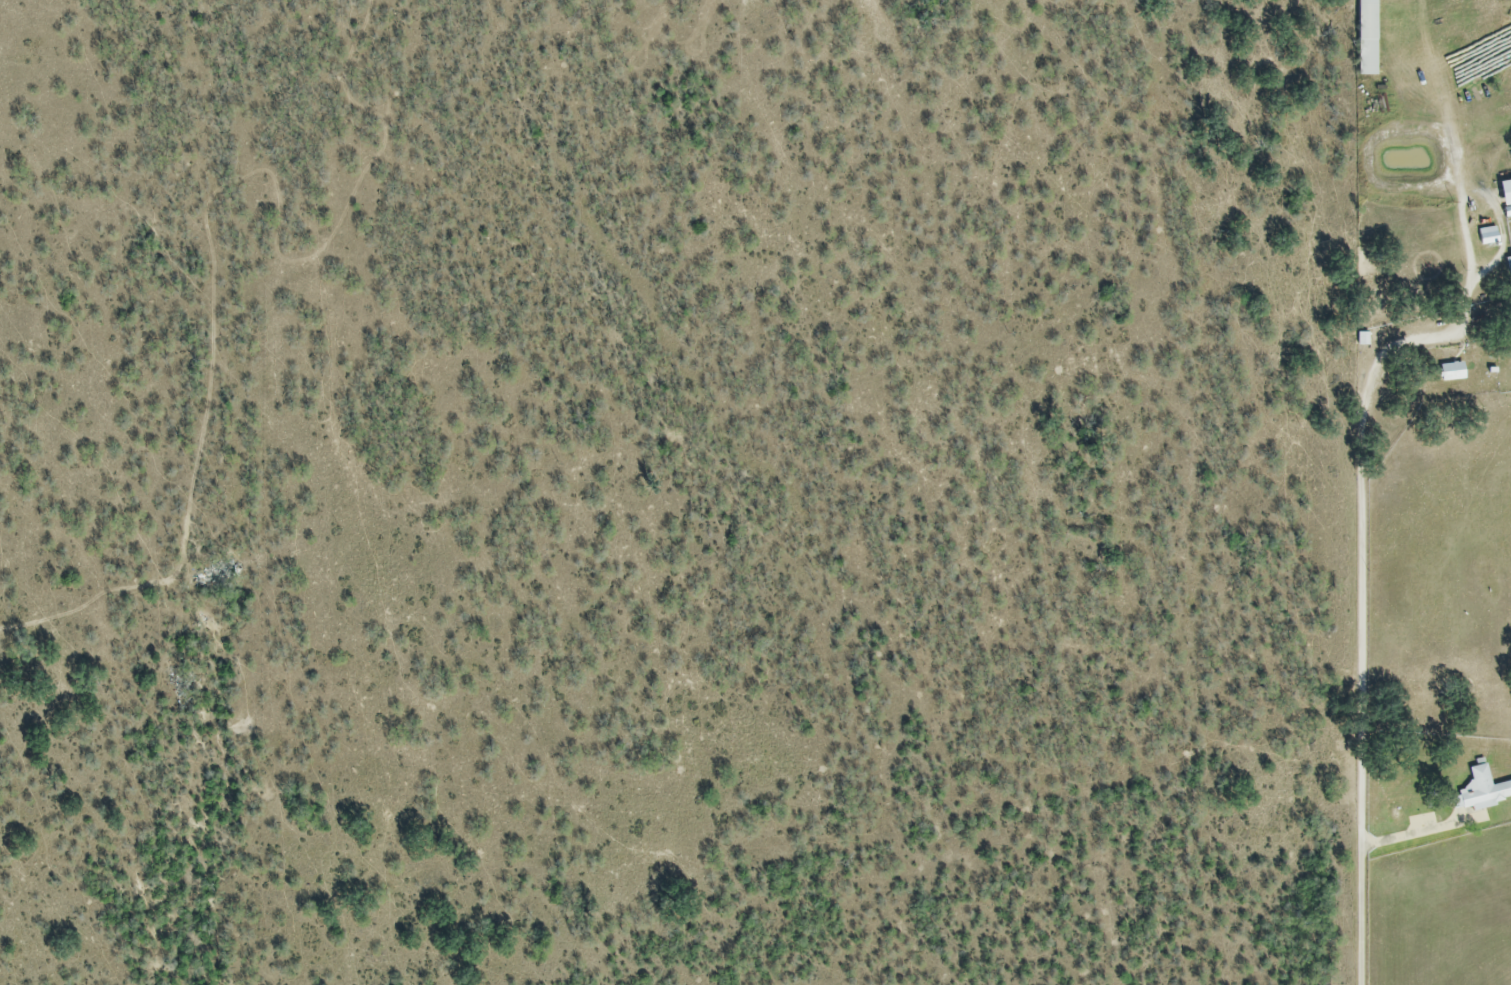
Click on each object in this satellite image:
building: (1365, 38)
road: (1448, 91)
building: (1505, 198)
building: (1486, 237)
building: (1508, 269)
building: (1449, 373)
road: (1366, 553)
building: (1483, 792)
road: (1421, 832)

